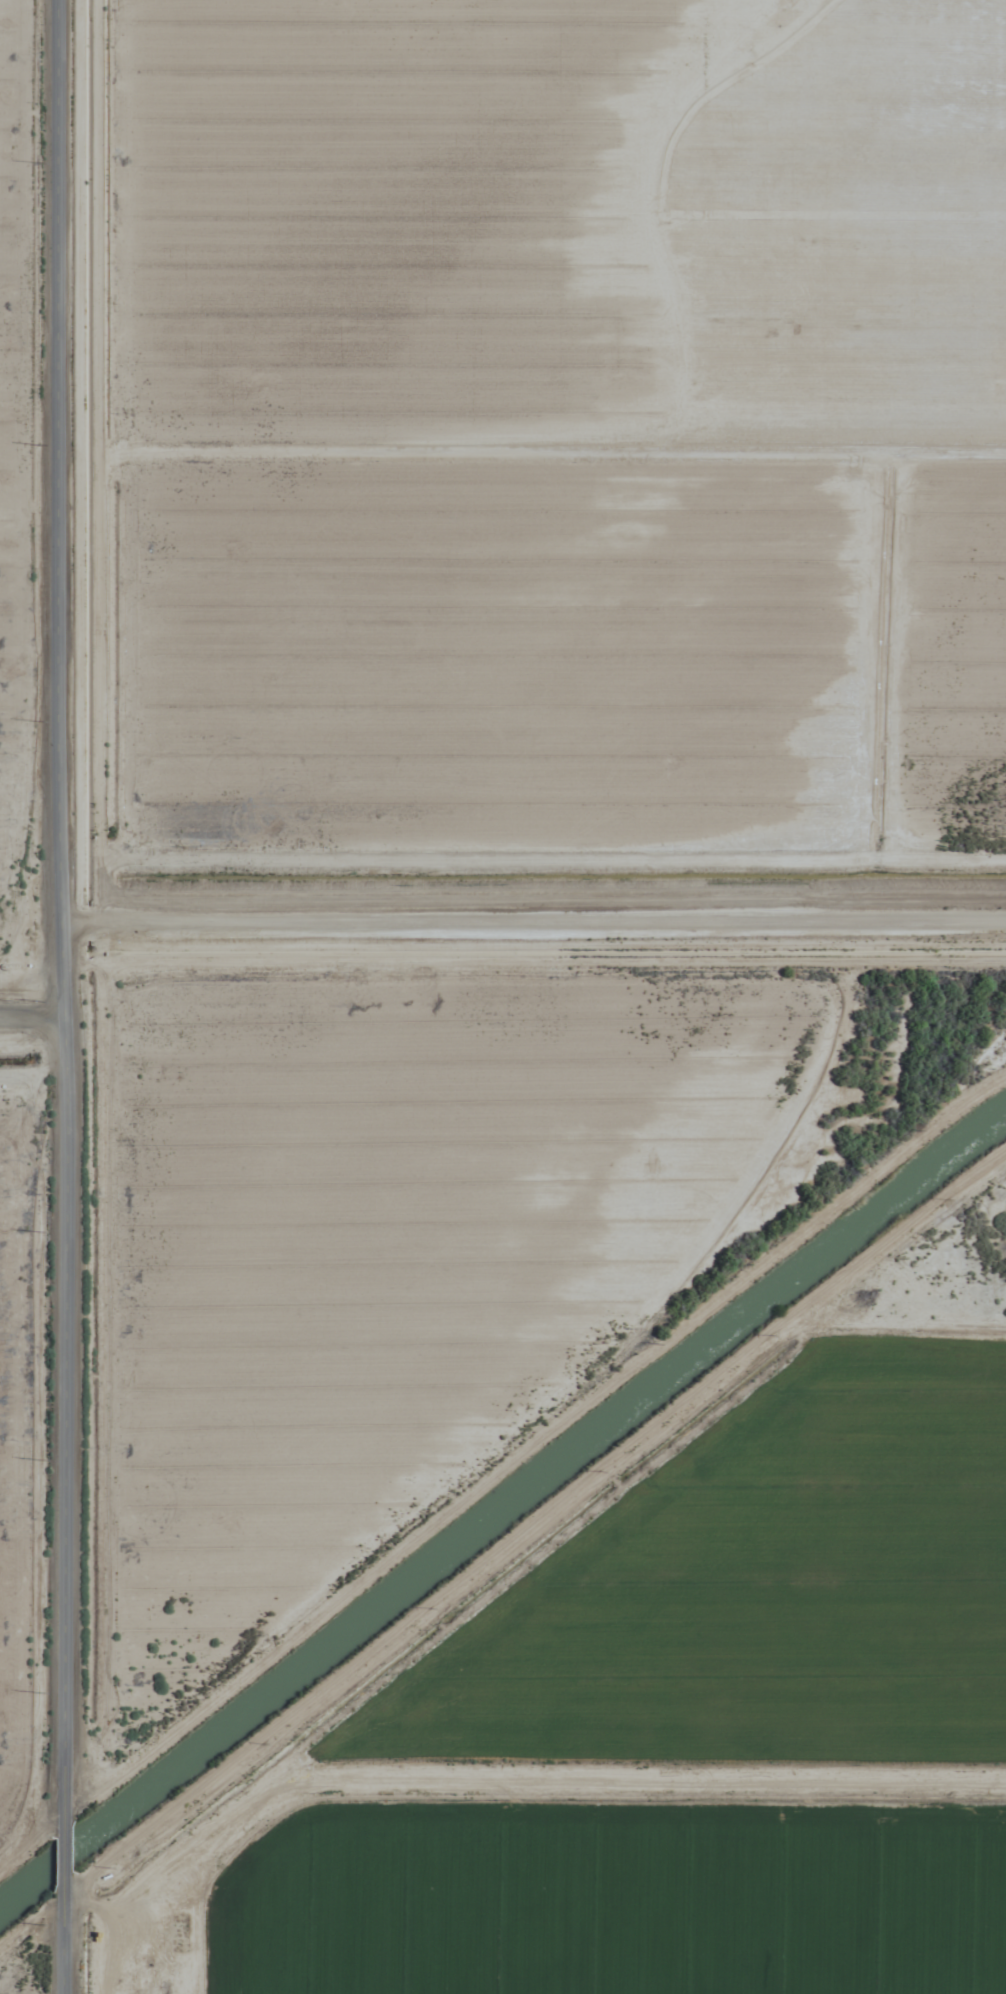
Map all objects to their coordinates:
road: (85, 909)
road: (543, 964)
road: (38, 1053)
crop: (8, 1181)
road: (62, 1851)
road: (64, 1938)

